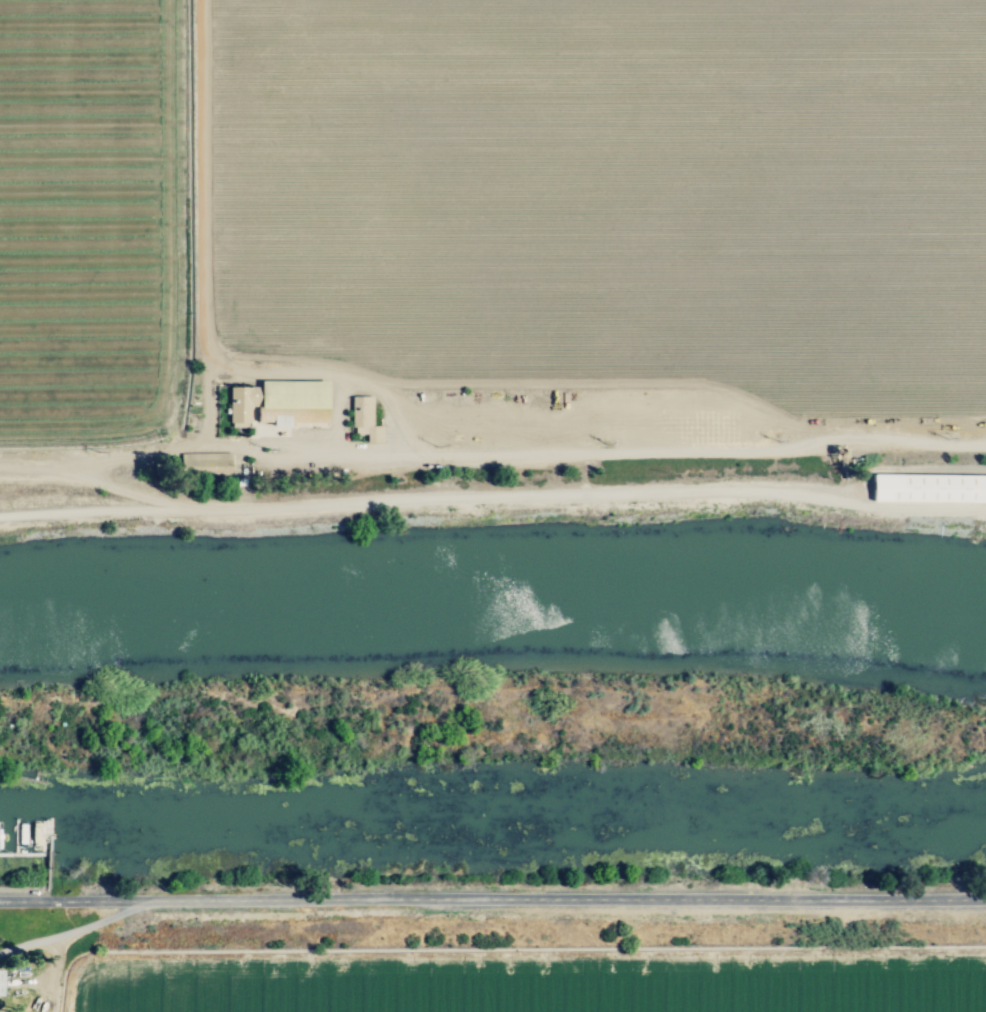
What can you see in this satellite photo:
building: (276, 404)
building: (362, 420)
road: (408, 430)
road: (175, 443)
road: (310, 449)
road: (34, 462)
building: (926, 491)
road: (125, 493)
road: (493, 498)
river: (493, 611)
river: (492, 823)
road: (493, 904)
road: (67, 931)
crop: (530, 960)
building: (1, 984)

